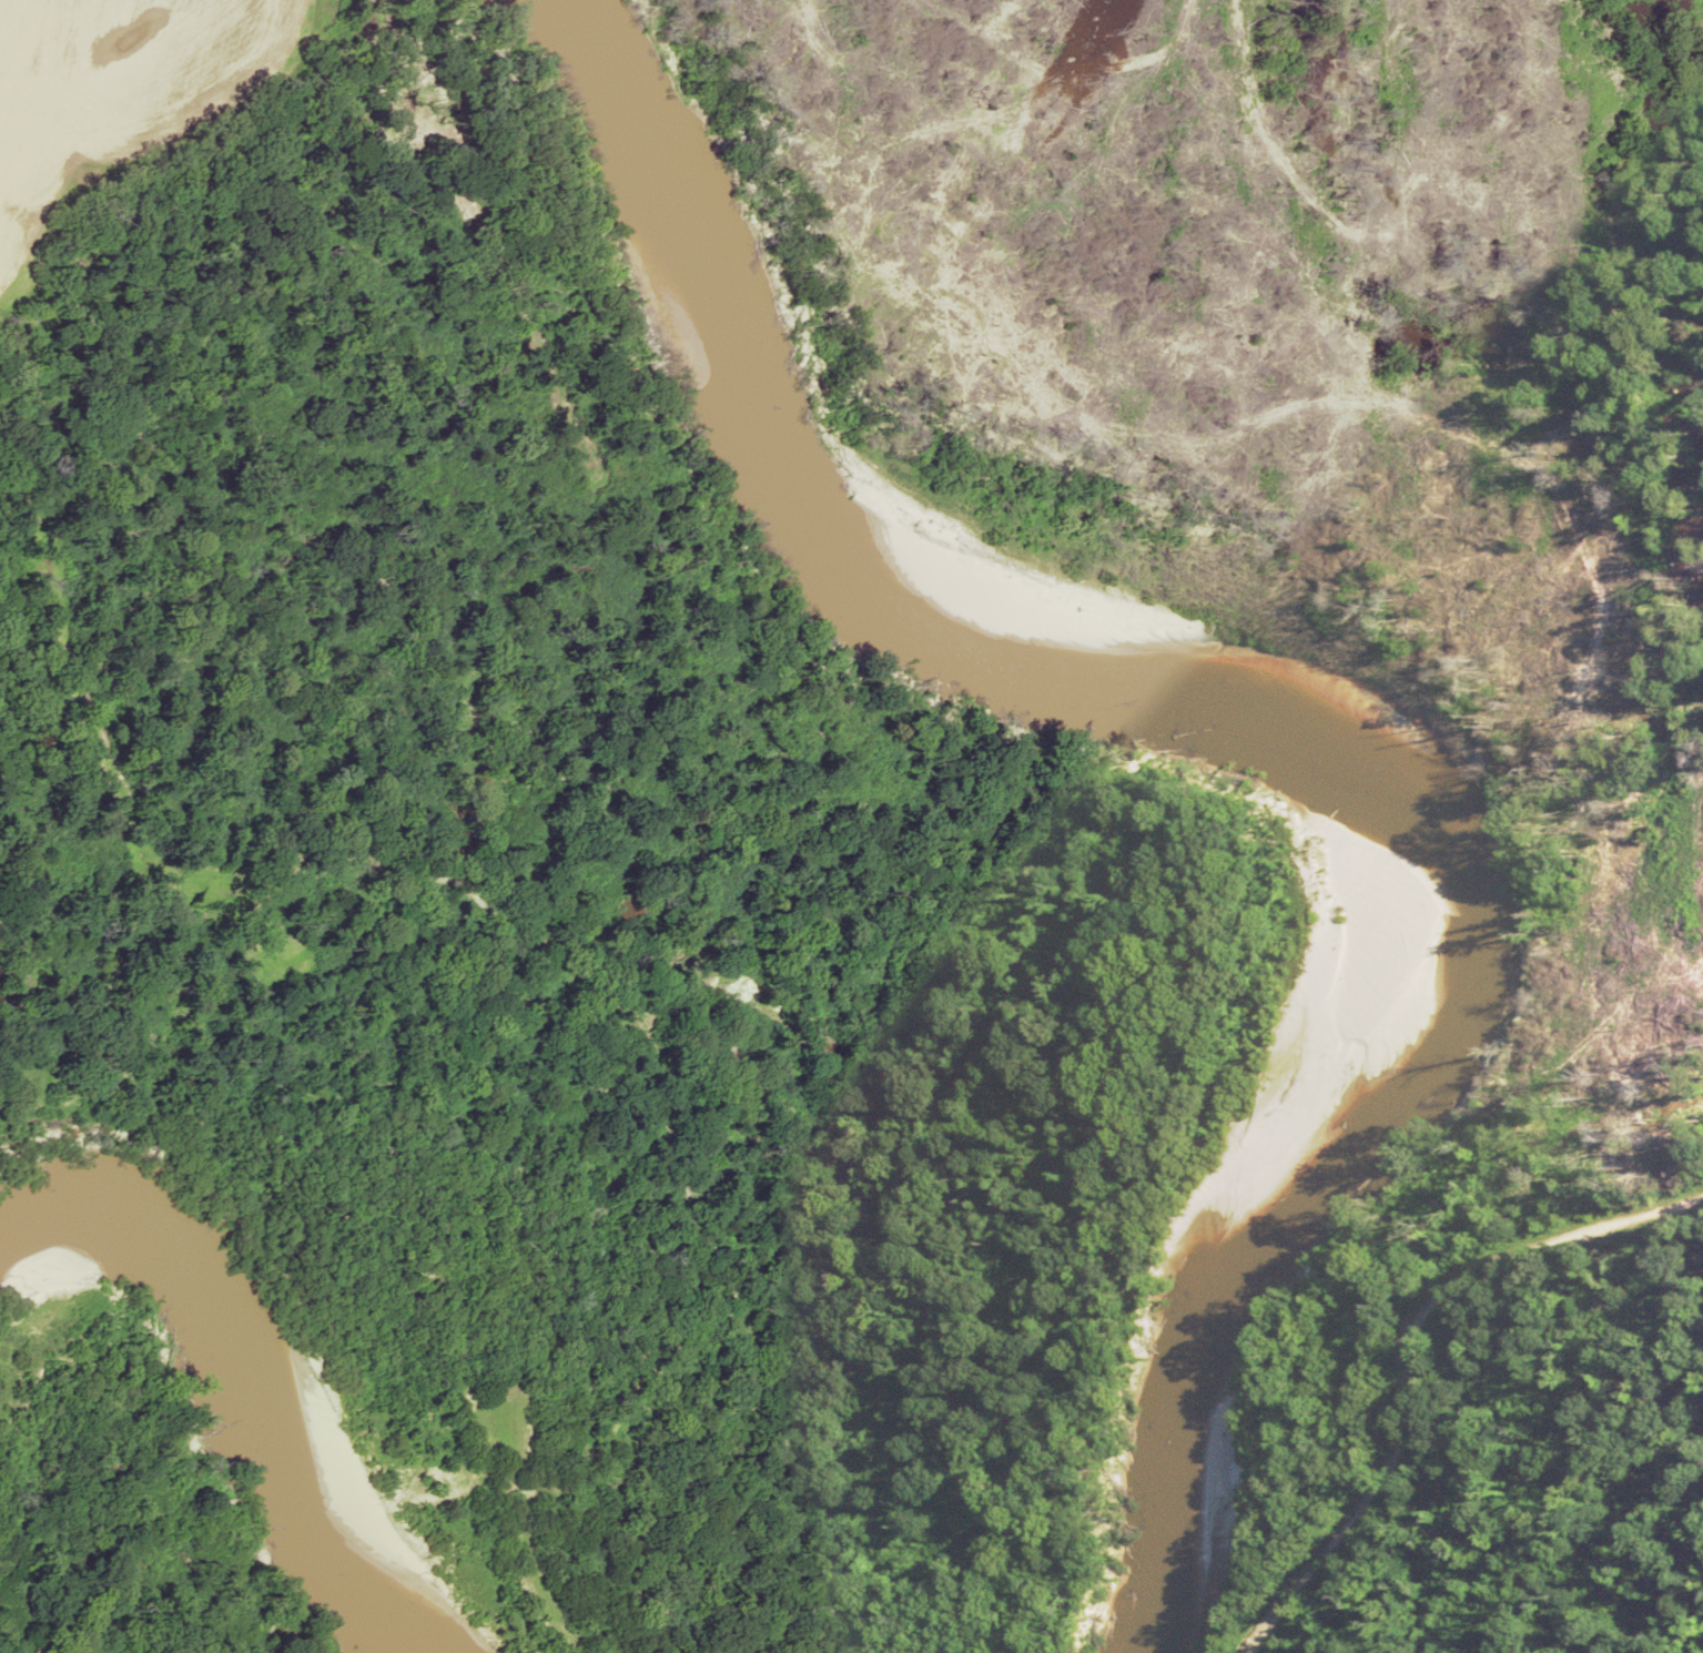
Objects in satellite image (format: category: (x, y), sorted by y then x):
river: (1285, 673)
river: (281, 1378)

